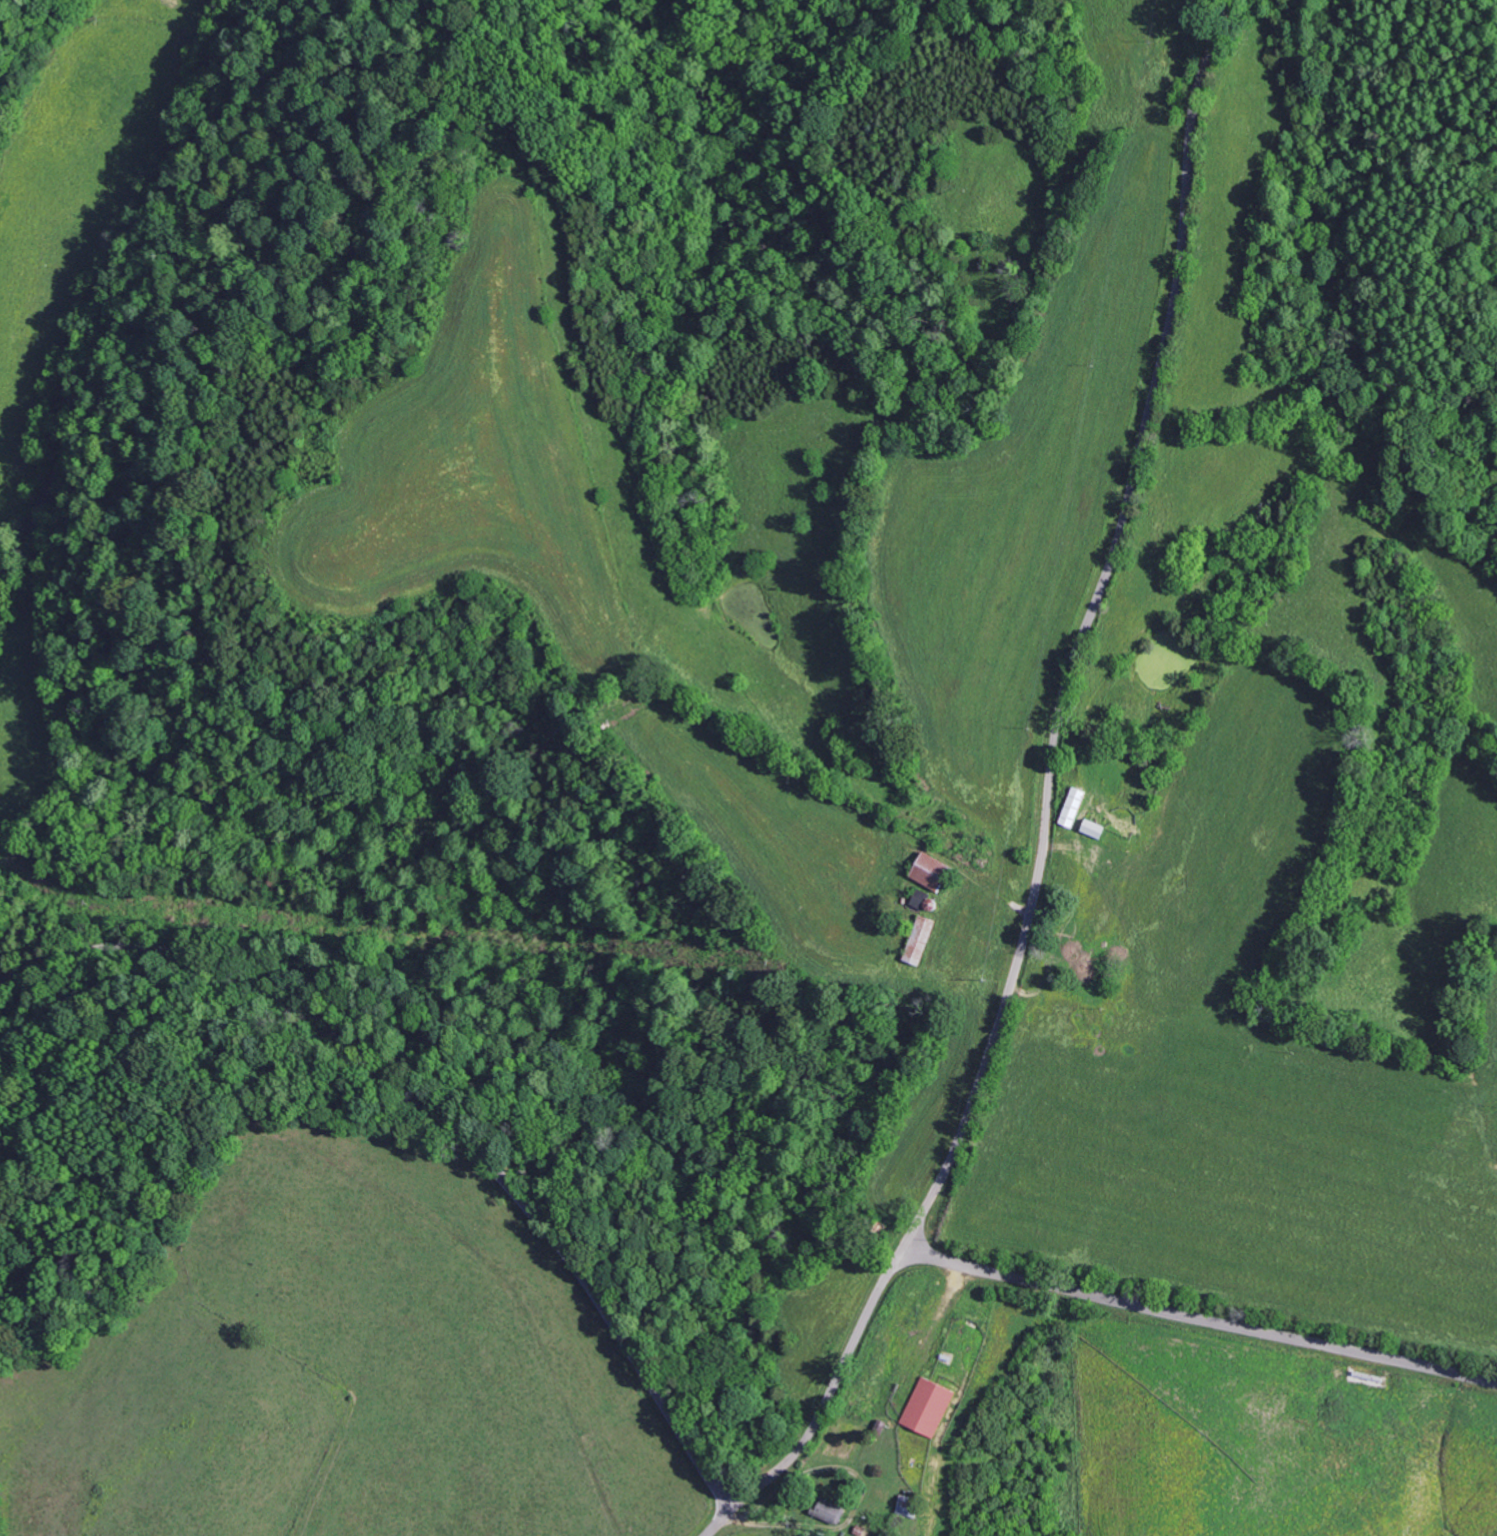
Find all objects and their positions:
road: (1050, 785)
building: (1068, 807)
building: (1089, 828)
building: (914, 940)
road: (437, 1114)
road: (1198, 1322)
building: (923, 1408)
building: (904, 1506)
building: (825, 1511)
road: (720, 1524)

